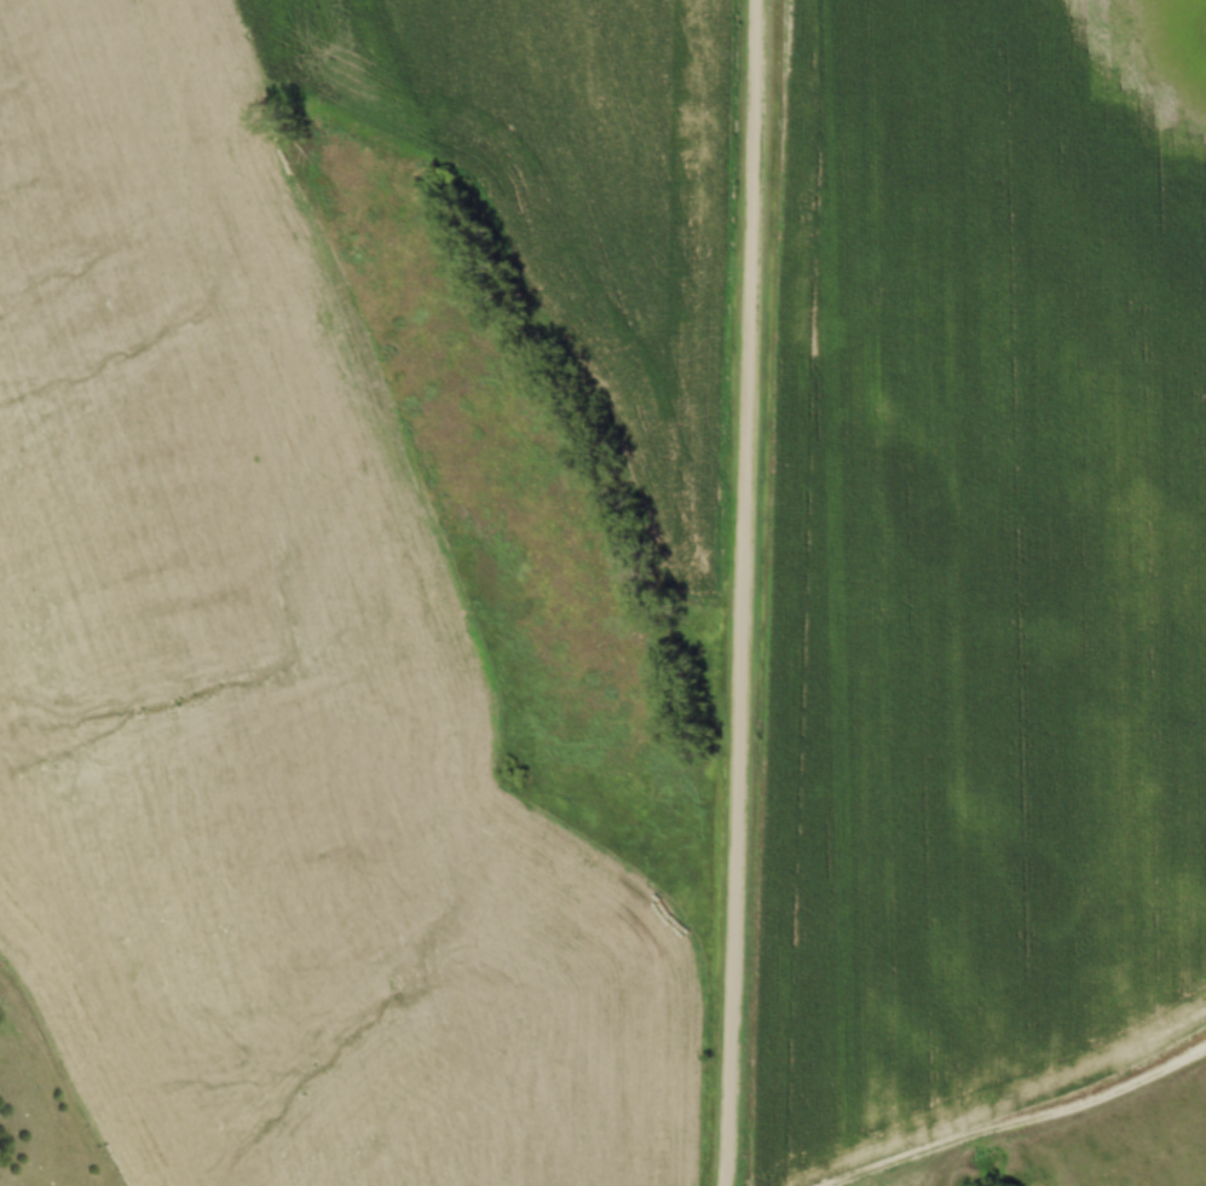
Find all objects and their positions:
road: (740, 592)

